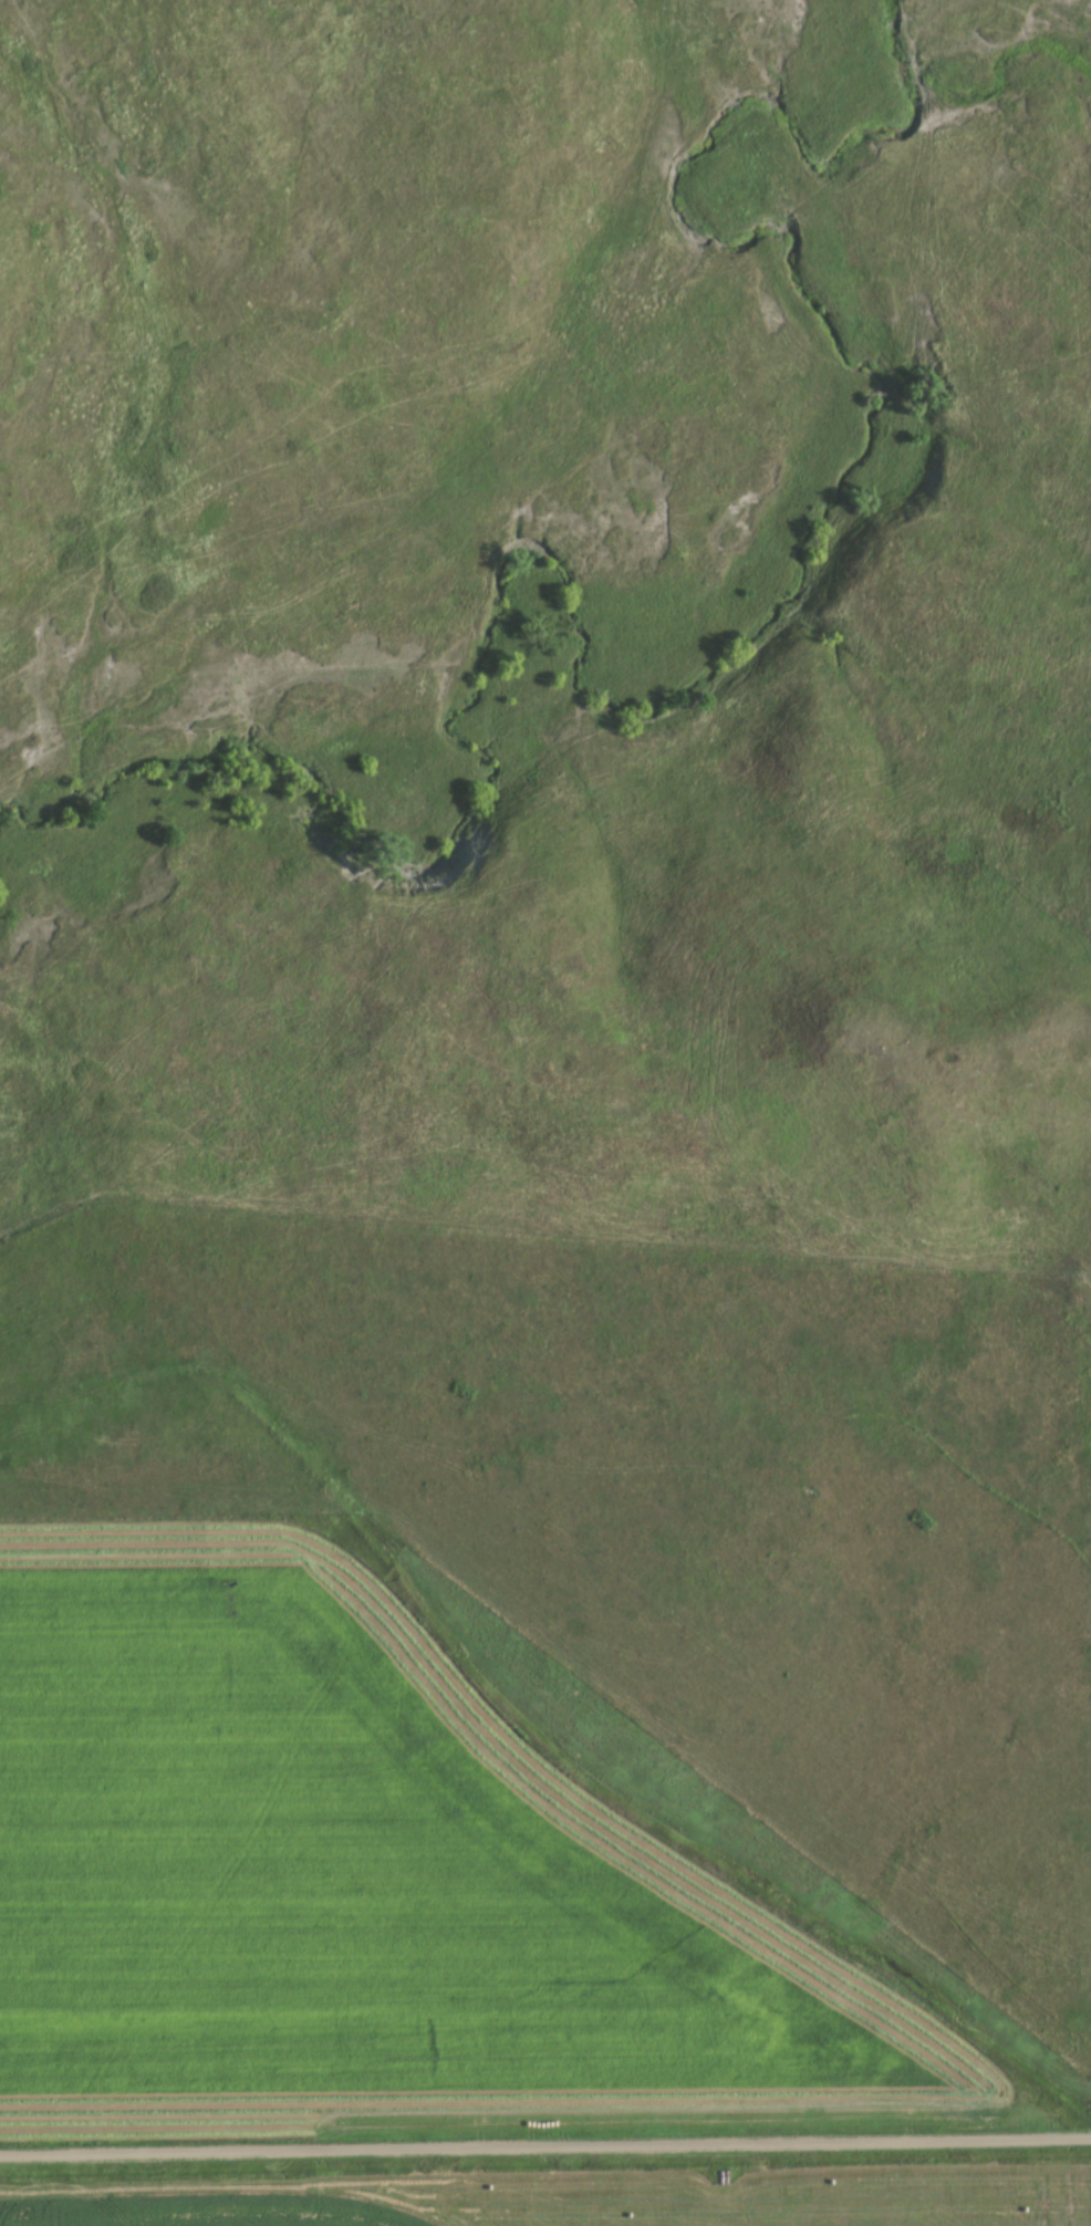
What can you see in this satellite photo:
crop: (365, 1885)
road: (545, 2147)

